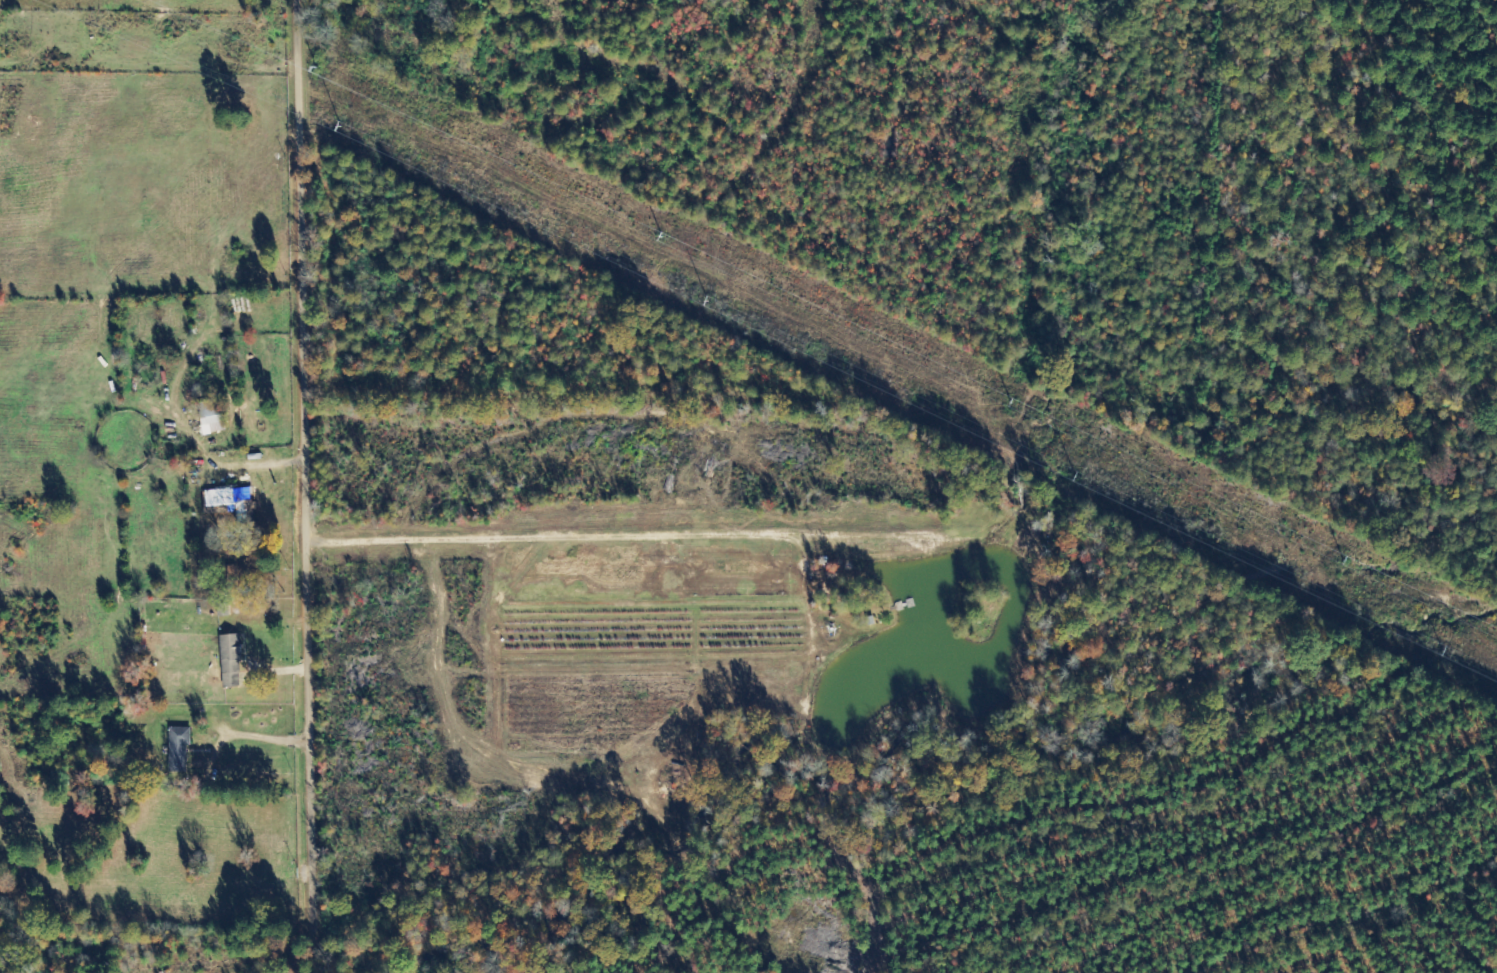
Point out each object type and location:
building: (212, 418)
road: (307, 486)
building: (231, 661)
building: (179, 749)

